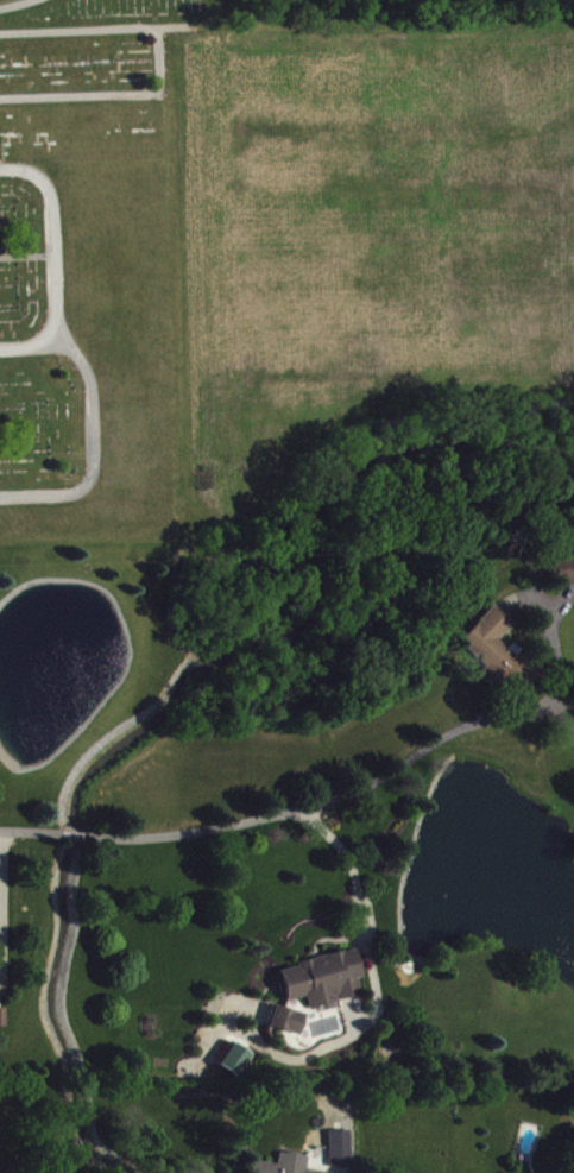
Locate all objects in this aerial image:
road: (12, 4)
road: (157, 59)
road: (55, 263)
park: (93, 275)
road: (90, 443)
building: (563, 581)
building: (493, 658)
road: (254, 816)
road: (0, 845)
road: (357, 885)
building: (324, 989)
building: (289, 1030)
building: (236, 1070)
building: (292, 1168)
building: (259, 1172)

